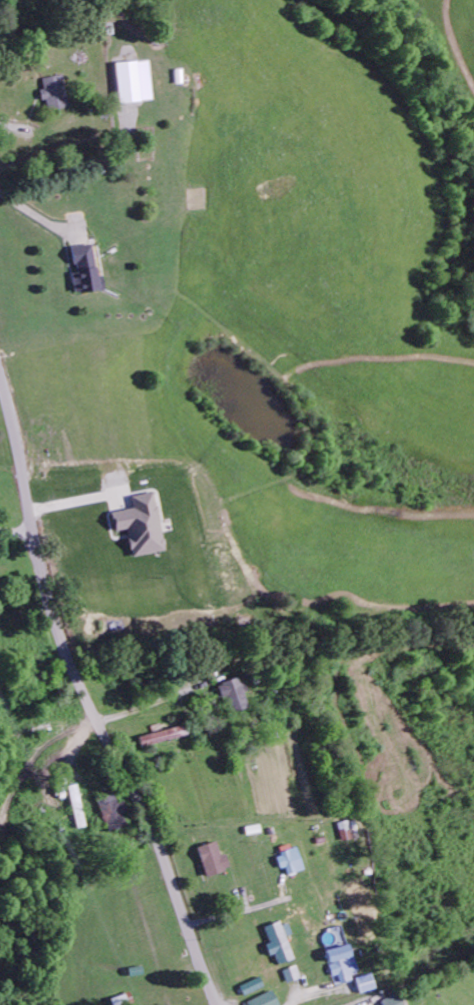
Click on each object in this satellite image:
building: (133, 84)
building: (56, 94)
building: (82, 273)
building: (142, 527)
road: (87, 697)
building: (235, 697)
building: (164, 738)
building: (75, 808)
building: (111, 815)
building: (212, 861)
building: (290, 864)
building: (279, 944)
building: (340, 966)
building: (363, 985)
building: (252, 988)
building: (265, 1000)
building: (391, 1001)

